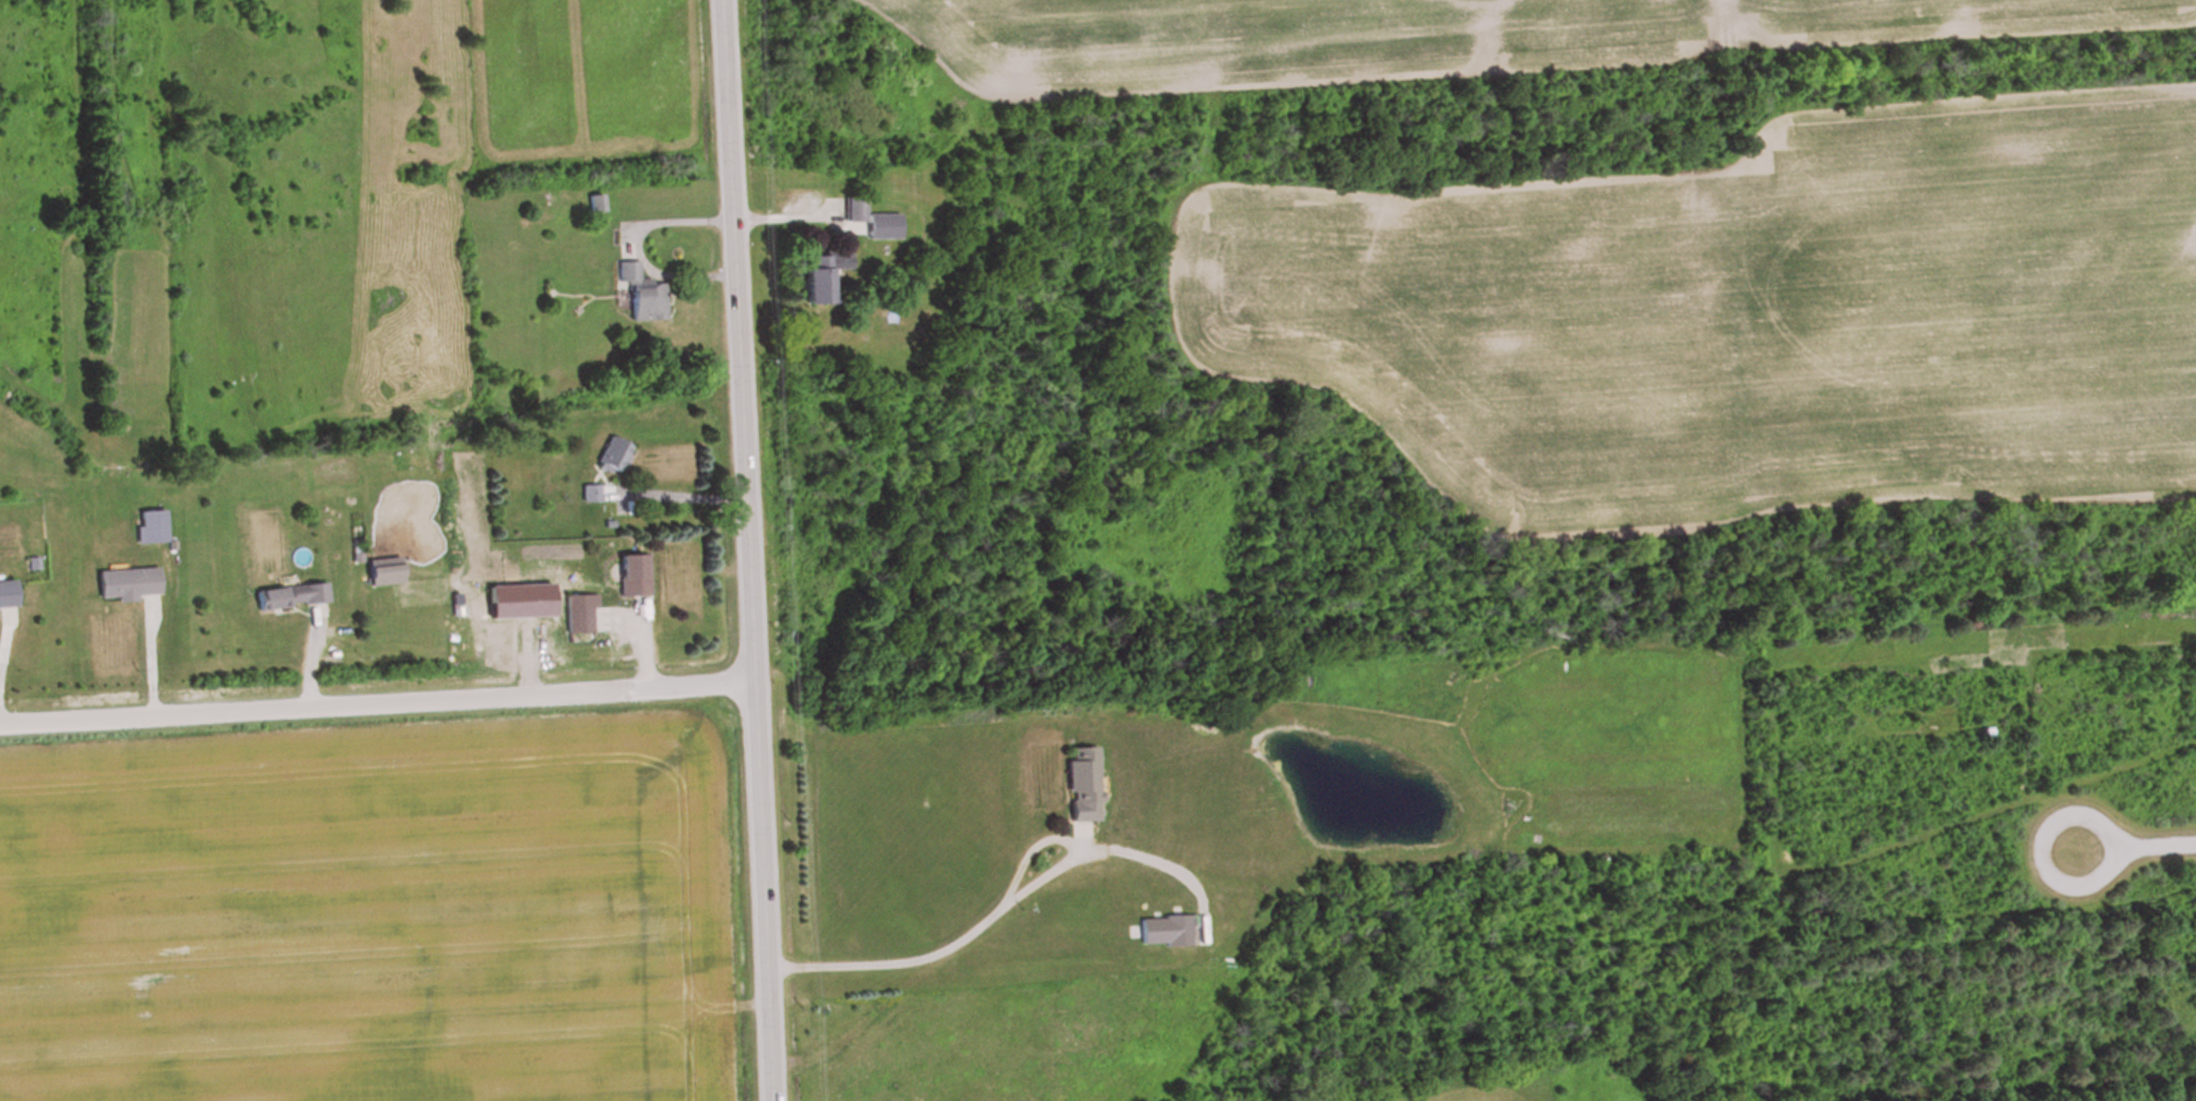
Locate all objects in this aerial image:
building: (595, 205)
building: (796, 208)
building: (855, 212)
road: (638, 248)
building: (818, 279)
building: (640, 296)
building: (613, 458)
road: (744, 549)
building: (383, 573)
building: (631, 577)
building: (127, 585)
building: (292, 597)
building: (7, 599)
building: (579, 619)
road: (3, 624)
road: (375, 699)
building: (1083, 786)
road: (2162, 838)
road: (2042, 848)
road: (983, 926)
building: (1166, 933)

